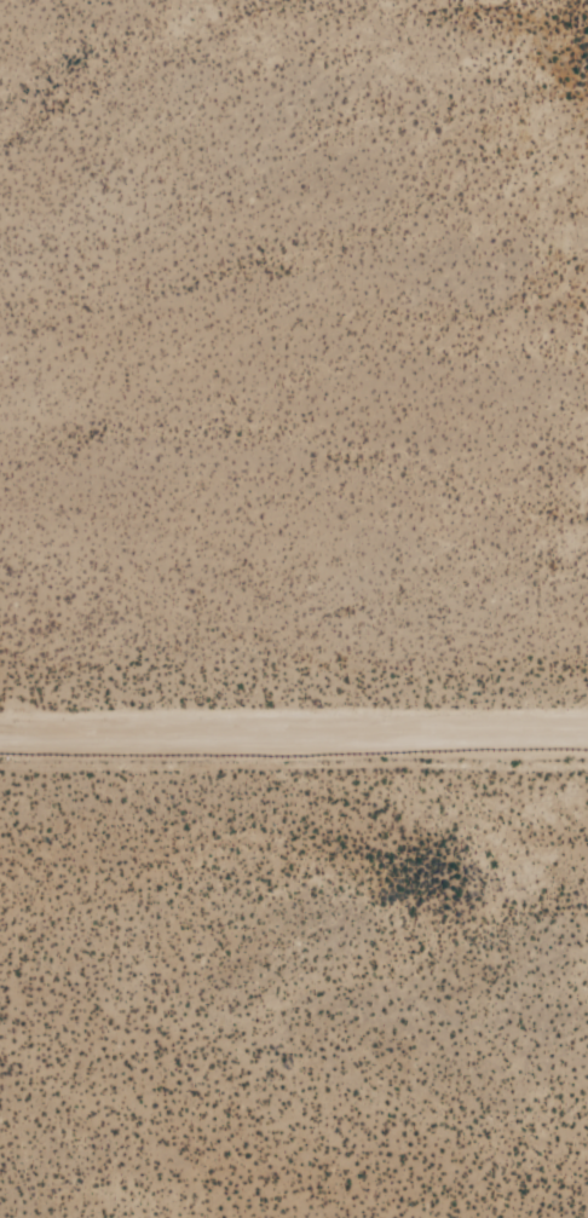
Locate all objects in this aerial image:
road: (294, 732)

